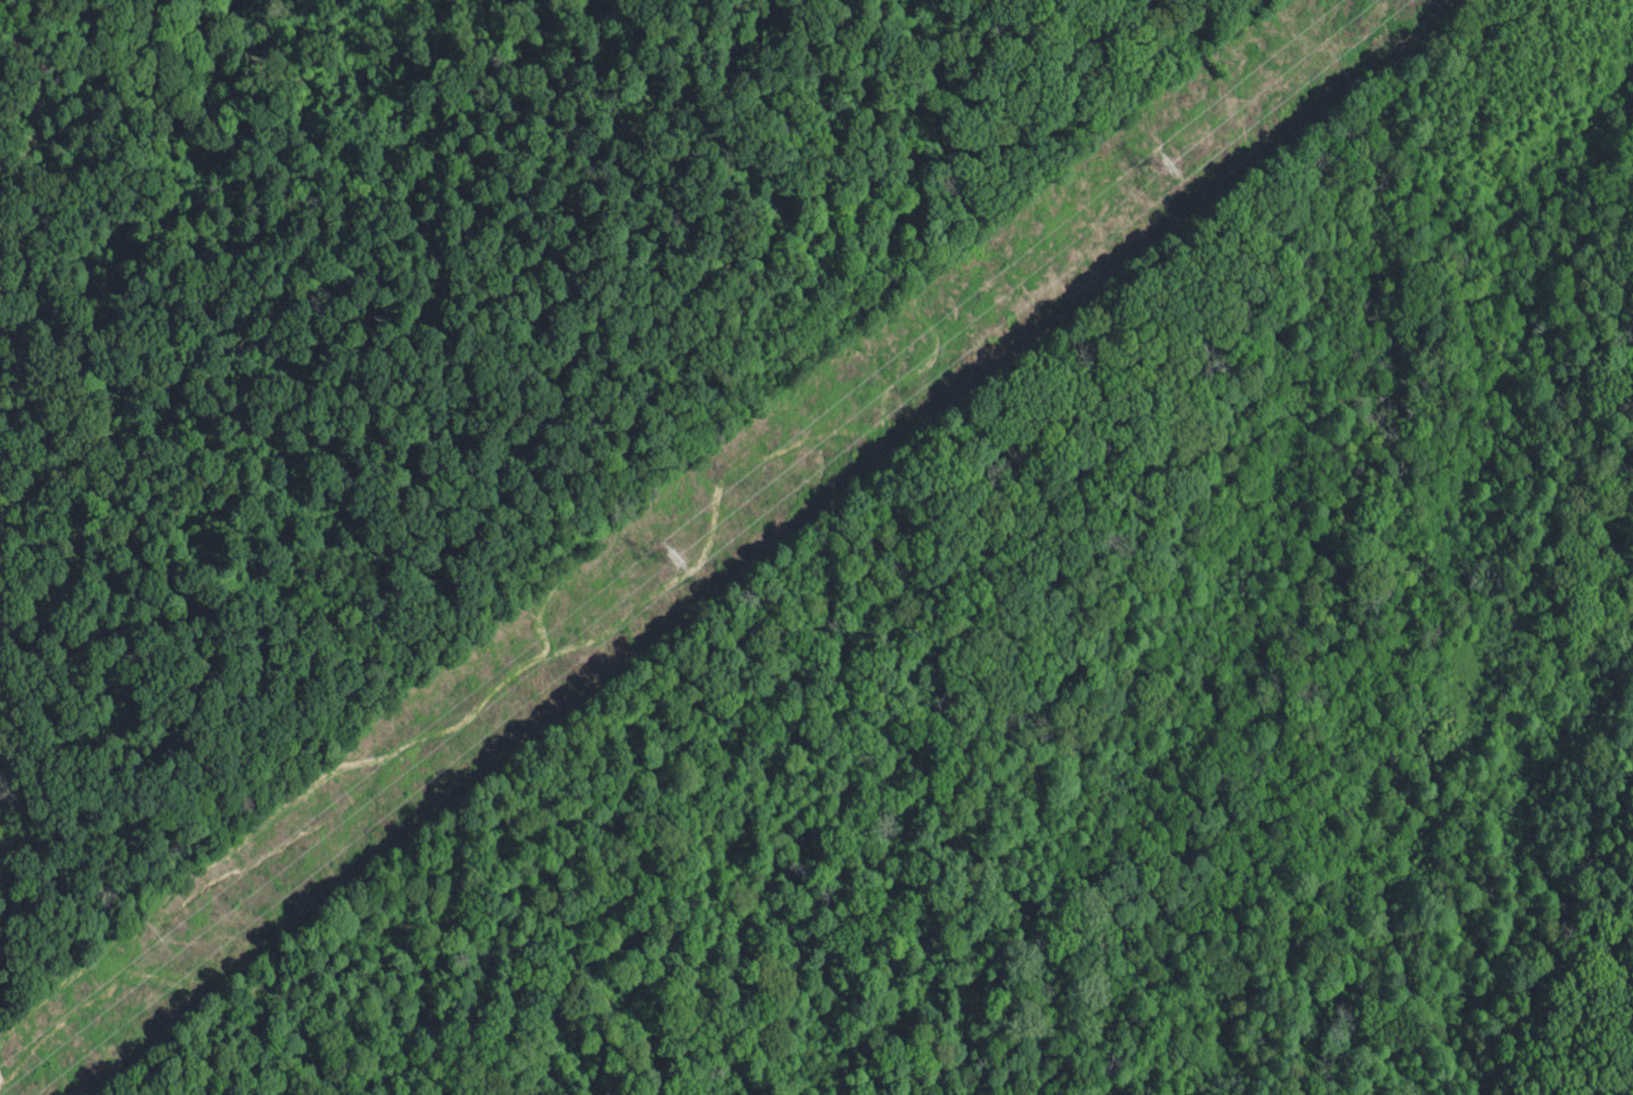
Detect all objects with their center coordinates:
power tower: (1169, 161)
power tower: (673, 557)

